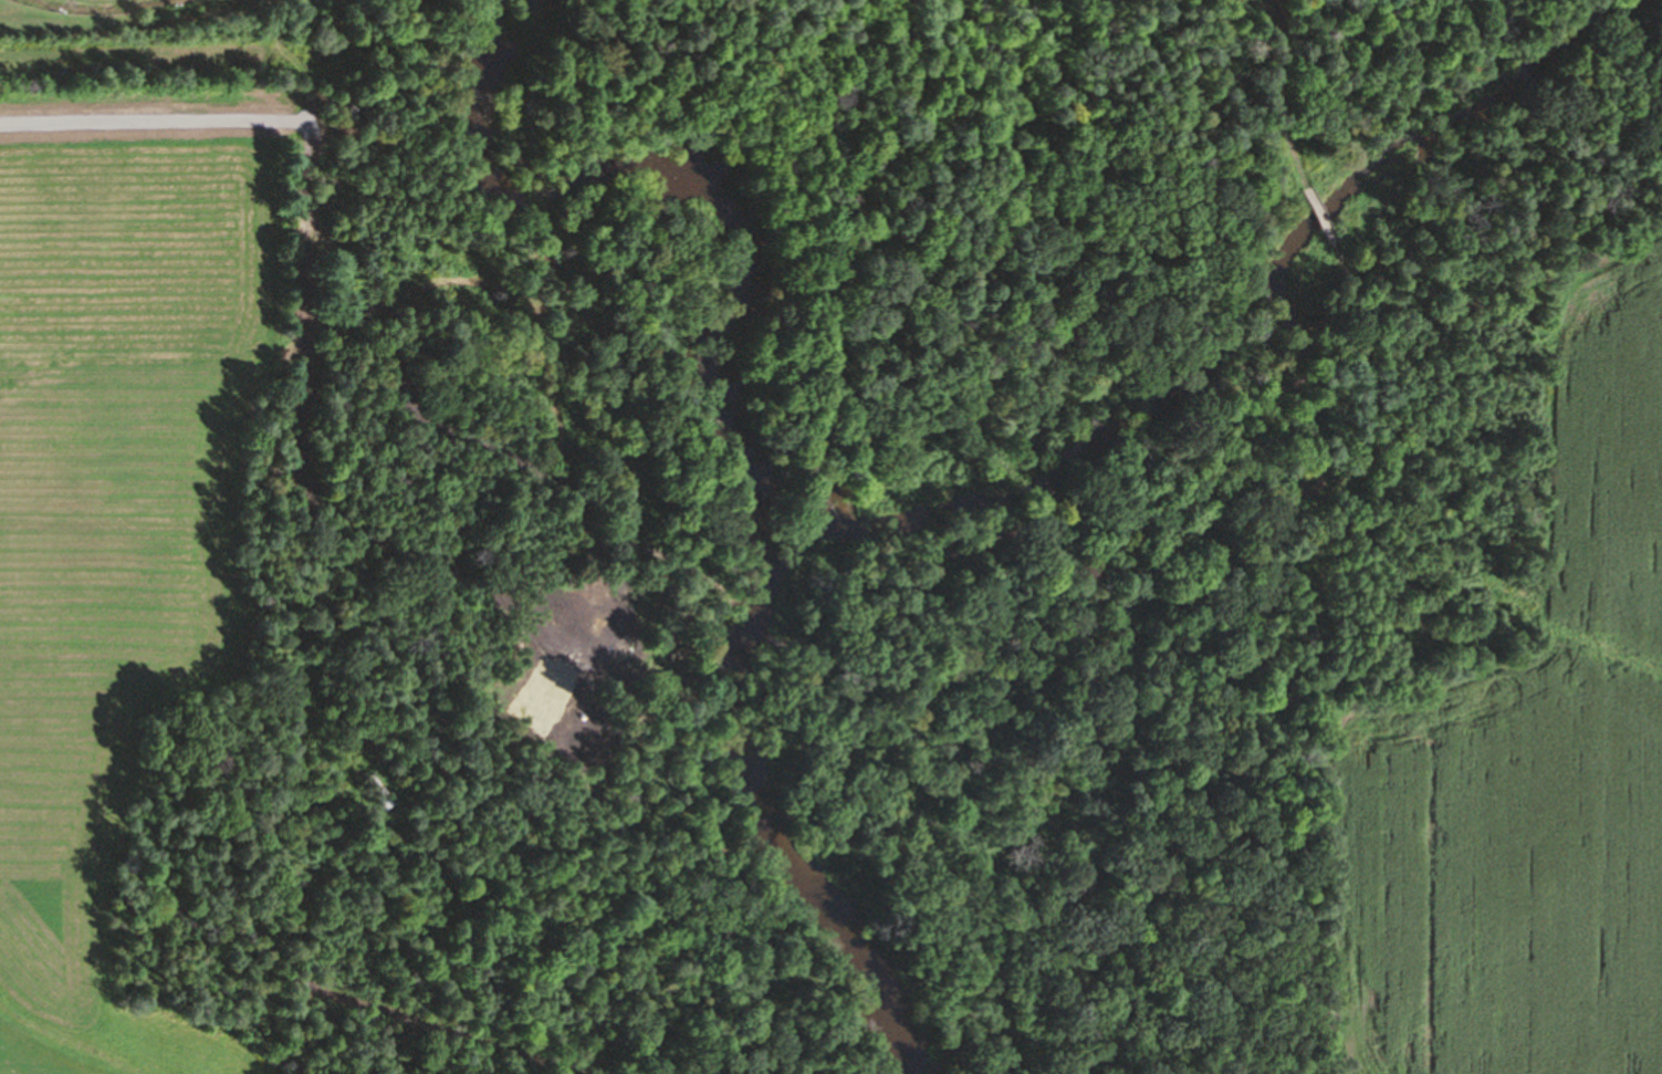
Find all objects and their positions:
building: (551, 603)
building: (380, 791)

